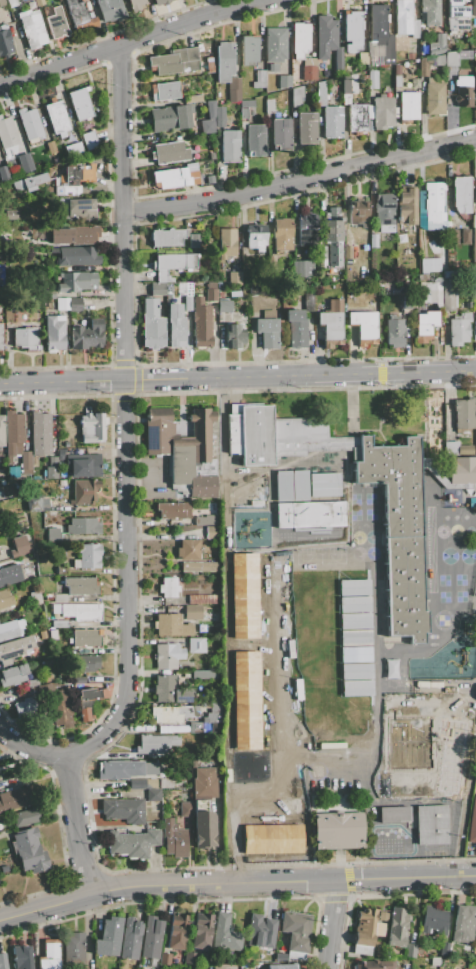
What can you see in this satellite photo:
building: (2, 2)
building: (38, 2)
building: (161, 2)
building: (11, 3)
building: (30, 4)
building: (136, 5)
building: (473, 7)
building: (456, 8)
building: (110, 10)
building: (430, 11)
building: (80, 15)
building: (403, 17)
building: (56, 23)
building: (33, 28)
building: (415, 29)
building: (352, 30)
building: (381, 32)
building: (325, 36)
building: (300, 39)
building: (5, 41)
building: (275, 44)
building: (437, 45)
road: (125, 46)
building: (249, 50)
building: (373, 50)
building: (473, 52)
building: (463, 53)
building: (185, 54)
building: (338, 58)
building: (451, 58)
building: (438, 59)
building: (224, 61)
building: (164, 64)
building: (190, 65)
building: (210, 66)
building: (422, 67)
building: (273, 68)
building: (309, 69)
building: (396, 70)
building: (372, 79)
building: (258, 80)
building: (285, 81)
building: (396, 81)
building: (346, 84)
building: (353, 84)
building: (475, 86)
building: (233, 89)
building: (164, 91)
building: (464, 91)
building: (321, 93)
building: (297, 96)
building: (194, 98)
building: (434, 98)
building: (79, 103)
building: (269, 106)
building: (408, 106)
building: (245, 107)
building: (210, 109)
building: (369, 111)
building: (382, 112)
building: (56, 117)
building: (219, 117)
building: (357, 117)
building: (170, 118)
building: (332, 122)
building: (29, 123)
building: (207, 126)
building: (306, 128)
building: (7, 132)
building: (281, 133)
building: (89, 140)
building: (255, 140)
building: (230, 146)
building: (50, 147)
building: (73, 150)
building: (0, 152)
building: (169, 152)
building: (211, 155)
building: (25, 162)
building: (190, 171)
building: (4, 173)
road: (301, 175)
building: (75, 178)
building: (170, 178)
building: (210, 179)
building: (29, 182)
building: (461, 194)
building: (419, 198)
building: (434, 201)
building: (406, 206)
building: (80, 209)
building: (357, 212)
building: (383, 212)
building: (10, 214)
building: (474, 220)
building: (307, 222)
building: (282, 234)
building: (74, 235)
building: (454, 235)
building: (474, 235)
building: (464, 236)
building: (166, 237)
building: (256, 237)
building: (333, 238)
building: (193, 240)
building: (372, 240)
building: (226, 243)
building: (474, 252)
building: (77, 256)
building: (322, 256)
building: (270, 260)
building: (174, 261)
building: (429, 265)
building: (302, 268)
building: (450, 274)
building: (234, 278)
building: (75, 281)
building: (472, 285)
building: (258, 286)
building: (157, 288)
building: (50, 294)
building: (210, 294)
building: (448, 295)
building: (308, 300)
building: (475, 302)
building: (187, 303)
building: (62, 304)
building: (75, 304)
building: (224, 305)
building: (404, 305)
building: (201, 322)
building: (331, 324)
building: (152, 325)
building: (425, 325)
building: (175, 326)
building: (363, 326)
building: (296, 328)
building: (267, 329)
building: (458, 329)
building: (54, 333)
building: (394, 333)
building: (87, 335)
building: (233, 336)
building: (1, 337)
building: (25, 338)
road: (237, 376)
road: (380, 381)
building: (475, 401)
road: (349, 402)
road: (340, 406)
road: (305, 414)
road: (125, 415)
building: (464, 415)
building: (92, 427)
road: (362, 429)
building: (1, 431)
building: (40, 433)
building: (12, 434)
building: (276, 435)
road: (222, 448)
building: (464, 449)
building: (184, 451)
building: (59, 454)
building: (52, 461)
building: (83, 466)
building: (462, 470)
building: (13, 472)
building: (51, 472)
building: (441, 476)
building: (303, 478)
building: (392, 481)
building: (323, 484)
building: (85, 492)
building: (37, 503)
building: (173, 510)
building: (308, 514)
building: (205, 520)
building: (83, 526)
building: (10, 527)
building: (212, 532)
building: (53, 535)
building: (20, 546)
building: (188, 550)
building: (87, 556)
building: (200, 567)
building: (9, 575)
building: (81, 586)
building: (168, 587)
building: (404, 588)
parking lot: (473, 592)
building: (243, 594)
building: (49, 596)
building: (35, 597)
building: (59, 597)
building: (5, 598)
building: (202, 599)
building: (82, 611)
building: (193, 612)
building: (59, 624)
building: (171, 625)
building: (11, 629)
building: (52, 634)
building: (86, 638)
building: (196, 645)
building: (15, 649)
building: (44, 650)
building: (167, 655)
building: (86, 664)
building: (390, 668)
building: (206, 674)
building: (13, 675)
building: (79, 680)
building: (32, 683)
road: (463, 686)
building: (169, 690)
building: (22, 691)
road: (475, 691)
building: (245, 699)
building: (217, 700)
building: (89, 702)
building: (57, 704)
building: (453, 707)
building: (26, 708)
building: (173, 714)
building: (210, 721)
park: (344, 730)
building: (154, 744)
road: (31, 751)
building: (450, 754)
building: (126, 769)
road: (466, 773)
building: (142, 783)
building: (165, 783)
building: (409, 786)
building: (154, 795)
building: (15, 799)
building: (203, 806)
building: (185, 809)
building: (124, 810)
building: (394, 814)
building: (25, 817)
building: (431, 824)
building: (472, 824)
road: (76, 825)
park: (268, 827)
building: (338, 830)
building: (271, 838)
building: (174, 839)
building: (132, 843)
building: (29, 851)
road: (457, 865)
road: (280, 883)
road: (43, 908)
building: (382, 916)
building: (434, 920)
building: (463, 923)
road: (331, 925)
building: (365, 927)
building: (397, 927)
building: (378, 929)
building: (296, 930)
building: (177, 931)
building: (201, 931)
building: (260, 931)
building: (224, 935)
building: (475, 935)
building: (108, 937)
building: (151, 937)
building: (130, 939)
building: (444, 948)
building: (73, 949)
building: (410, 950)
building: (49, 955)
building: (22, 957)
building: (280, 957)
building: (190, 958)
building: (165, 959)
building: (2, 961)
building: (434, 961)
building: (375, 965)
building: (282, 966)

